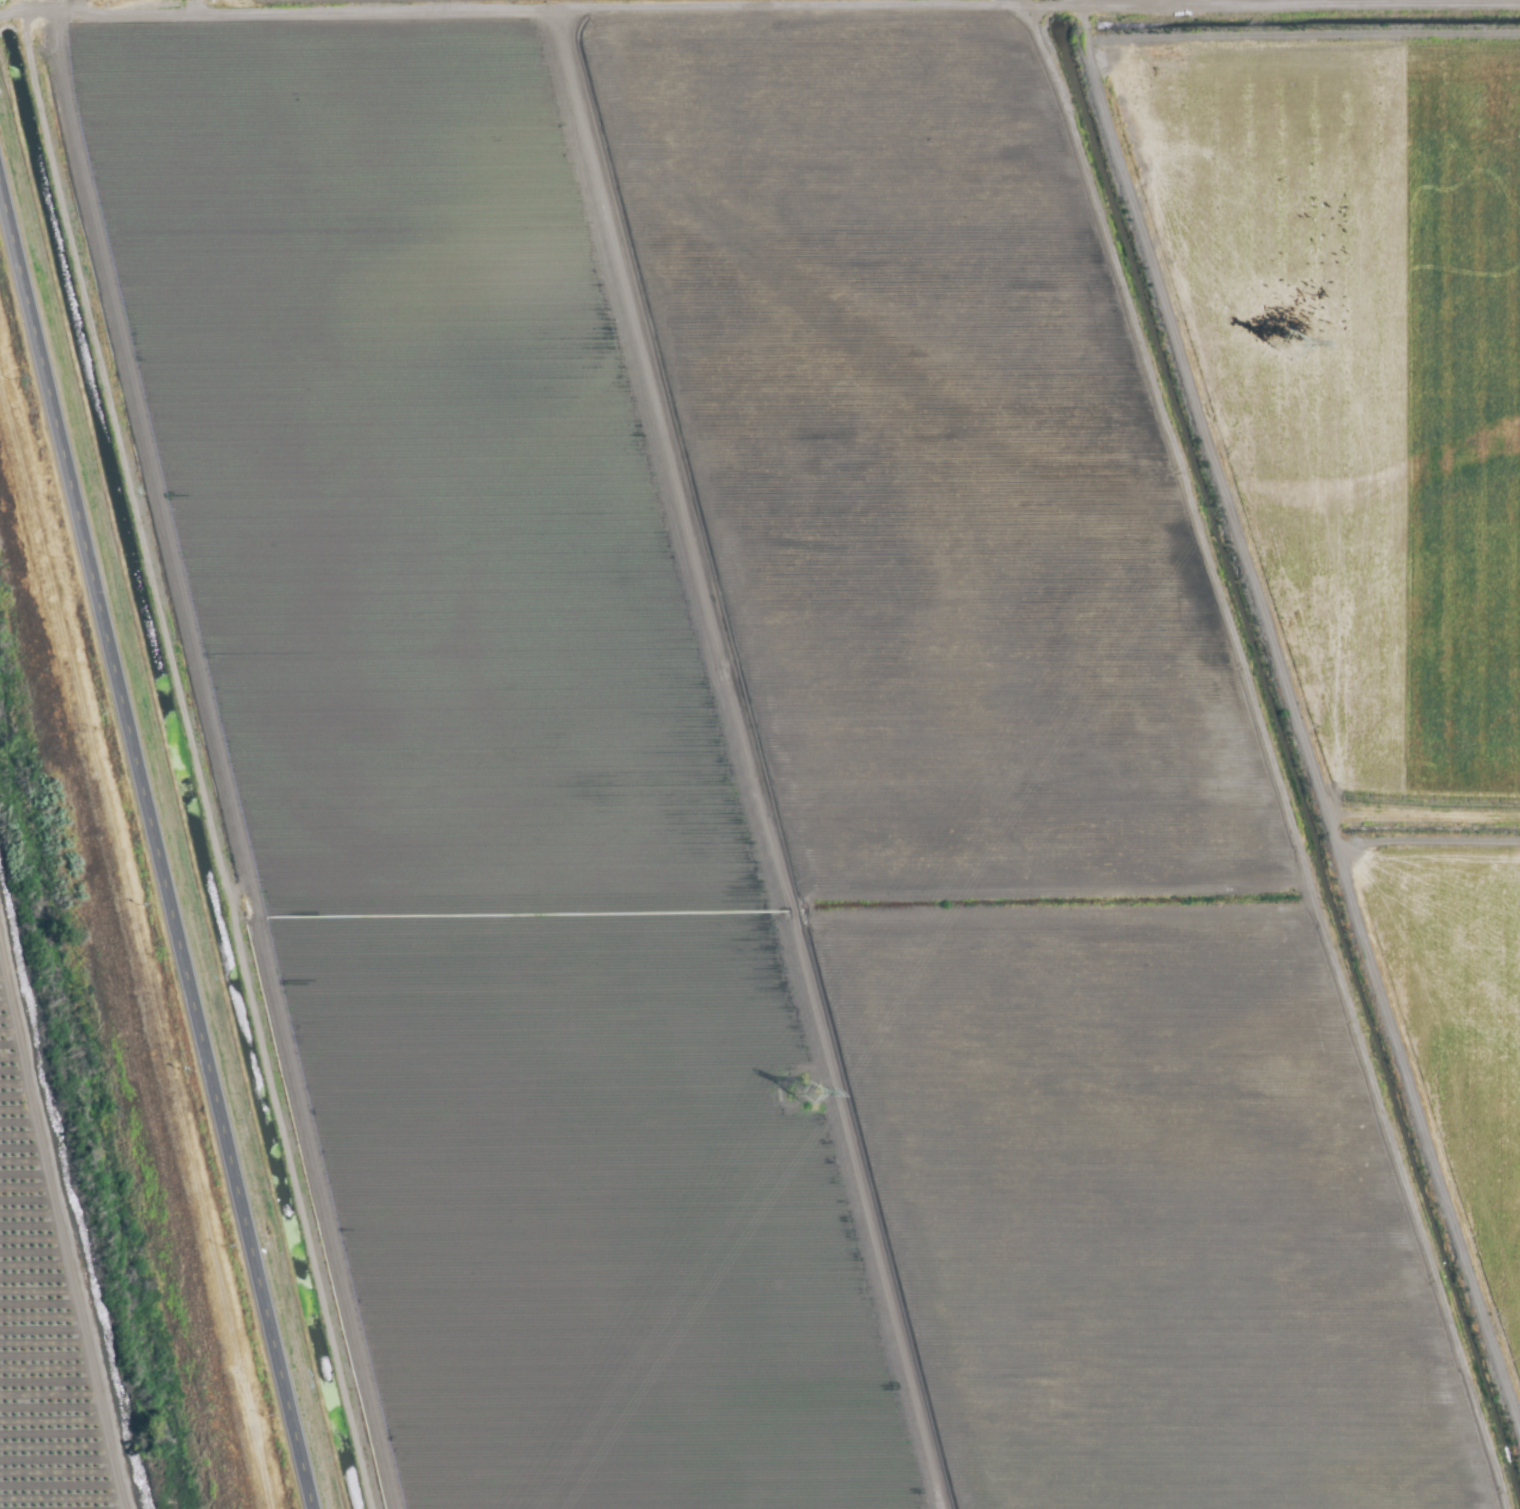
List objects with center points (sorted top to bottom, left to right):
road: (27, 5)
road: (495, 8)
power tower: (1290, 340)
road: (166, 820)
power tower: (818, 1087)

